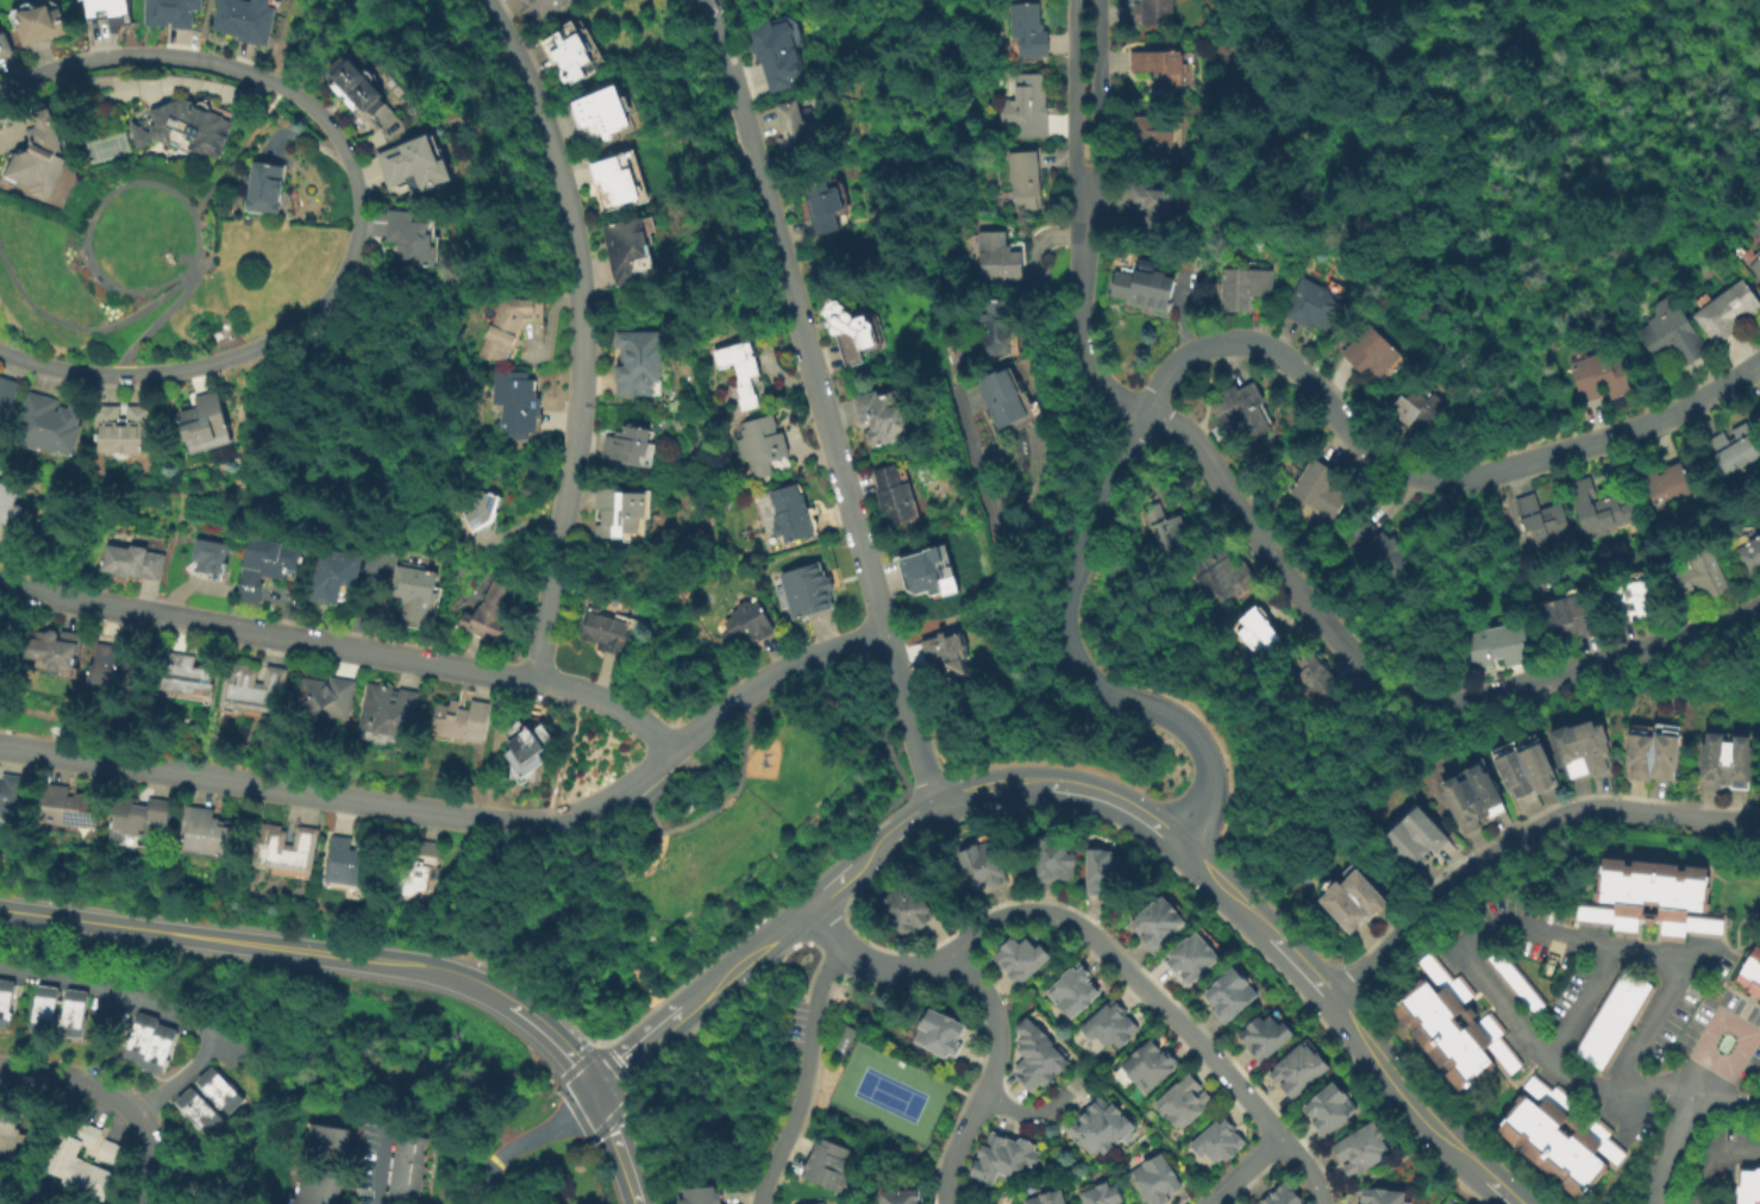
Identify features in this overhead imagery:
building: (546, 7)
building: (106, 11)
building: (175, 12)
building: (1153, 13)
building: (243, 19)
building: (36, 21)
building: (1033, 30)
building: (5, 45)
building: (784, 51)
building: (570, 52)
building: (1159, 68)
building: (359, 86)
road: (1075, 92)
road: (1101, 93)
building: (1031, 106)
building: (612, 113)
building: (800, 127)
building: (182, 128)
building: (1153, 134)
building: (35, 157)
building: (420, 164)
building: (1031, 180)
building: (618, 181)
building: (263, 187)
building: (828, 207)
building: (1152, 207)
road: (352, 208)
road: (98, 211)
building: (416, 237)
building: (627, 250)
building: (1004, 257)
building: (169, 258)
park: (152, 264)
building: (1756, 268)
road: (62, 276)
building: (1145, 288)
building: (1244, 288)
building: (1313, 305)
road: (1082, 311)
building: (1725, 312)
road: (156, 325)
building: (512, 325)
building: (995, 330)
road: (86, 331)
building: (853, 332)
road: (581, 333)
building: (1672, 334)
road: (1208, 347)
building: (1371, 353)
building: (646, 364)
building: (750, 369)
building: (1599, 376)
building: (6, 394)
building: (1010, 399)
building: (520, 401)
road: (818, 401)
building: (1242, 407)
building: (1418, 412)
building: (207, 415)
building: (888, 415)
building: (49, 424)
building: (124, 427)
road: (389, 437)
building: (634, 443)
building: (762, 447)
building: (1735, 449)
building: (1672, 483)
building: (1319, 488)
building: (894, 496)
building: (8, 502)
building: (484, 508)
building: (1598, 508)
building: (626, 510)
building: (790, 515)
building: (1543, 521)
building: (1161, 527)
building: (1380, 547)
road: (995, 548)
building: (1748, 552)
building: (212, 558)
building: (133, 560)
building: (264, 566)
building: (941, 572)
building: (336, 573)
building: (1221, 573)
building: (1701, 573)
building: (810, 590)
building: (418, 594)
building: (1188, 595)
building: (1629, 597)
building: (493, 612)
building: (1564, 615)
building: (744, 628)
building: (1255, 628)
building: (612, 631)
building: (1497, 645)
building: (1, 650)
building: (55, 650)
road: (344, 650)
building: (956, 652)
building: (114, 670)
building: (186, 678)
building: (1316, 678)
building: (252, 688)
road: (777, 689)
road: (1397, 694)
building: (327, 696)
road: (863, 709)
building: (389, 710)
building: (463, 721)
building: (1582, 747)
building: (1653, 751)
building: (525, 752)
building: (1711, 760)
building: (1736, 761)
building: (1524, 765)
building: (10, 794)
building: (1472, 796)
building: (67, 810)
road: (652, 810)
building: (134, 820)
road: (468, 820)
building: (201, 832)
building: (1415, 838)
road: (1522, 844)
building: (282, 849)
building: (1052, 859)
park: (684, 860)
building: (346, 861)
building: (981, 865)
building: (1102, 870)
building: (416, 871)
road: (572, 891)
building: (1360, 891)
building: (1653, 898)
building: (1339, 905)
building: (904, 909)
road: (822, 922)
building: (1157, 923)
road: (1258, 923)
road: (758, 942)
road: (258, 943)
road: (1666, 954)
building: (1019, 958)
building: (1190, 958)
road: (896, 968)
building: (1752, 972)
road: (1136, 976)
building: (1517, 982)
building: (1072, 990)
building: (1229, 995)
building: (7, 1002)
building: (58, 1009)
road: (164, 1011)
road: (995, 1020)
building: (1614, 1020)
building: (1110, 1024)
building: (1454, 1026)
building: (939, 1034)
building: (1265, 1036)
road: (553, 1040)
building: (149, 1041)
road: (1534, 1045)
building: (1038, 1056)
building: (1148, 1066)
building: (1298, 1070)
road: (800, 1074)
traffic signals: (589, 1086)
park: (887, 1095)
road: (117, 1096)
building: (206, 1099)
building: (1183, 1100)
road: (1730, 1100)
building: (1329, 1109)
road: (1029, 1114)
building: (1101, 1127)
building: (10, 1131)
building: (1560, 1136)
road: (520, 1139)
building: (1219, 1141)
building: (324, 1143)
road: (613, 1143)
road: (956, 1148)
building: (1361, 1148)
road: (1677, 1148)
road: (1740, 1150)
building: (107, 1152)
building: (1003, 1158)
building: (79, 1164)
building: (827, 1165)
road: (1305, 1166)
building: (405, 1169)
road: (1240, 1172)
road: (1383, 1173)
building: (1155, 1180)
building: (1750, 1186)
building: (314, 1187)
building: (1102, 1194)
building: (699, 1196)
building: (1280, 1196)
building: (1382, 1196)
road: (4, 1197)
building: (898, 1197)
building: (1047, 1198)
road: (477, 1199)
building: (73, 1203)
building: (821, 1203)

